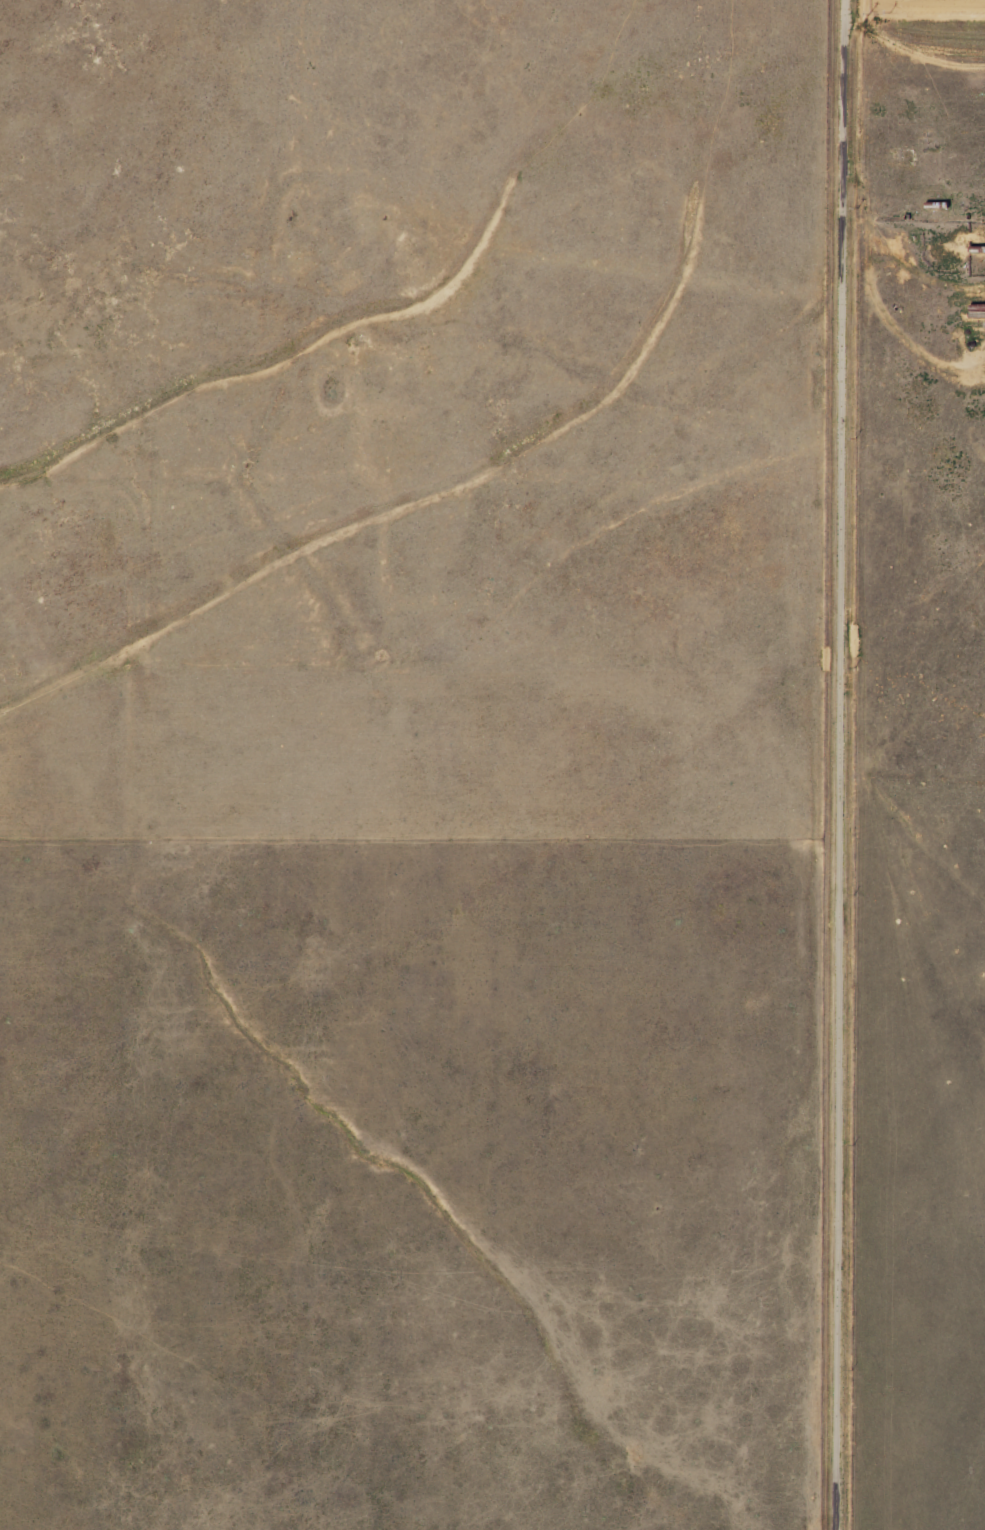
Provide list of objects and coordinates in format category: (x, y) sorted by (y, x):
road: (843, 764)

